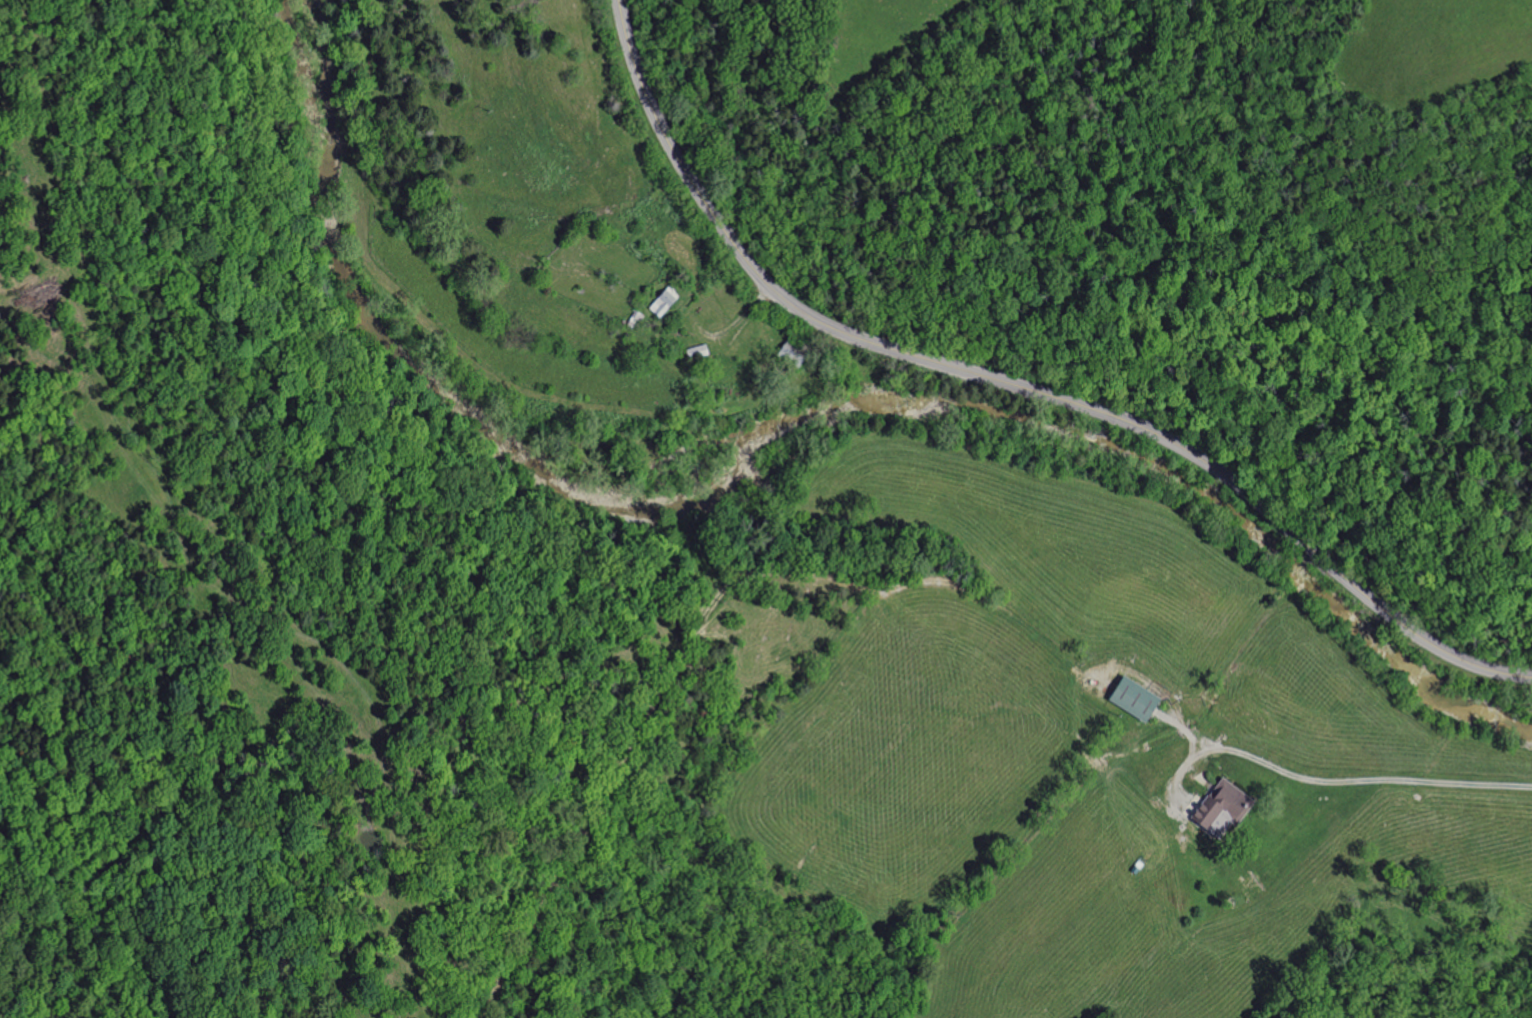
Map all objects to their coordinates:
building: (663, 302)
road: (1019, 386)
building: (1128, 698)
road: (1340, 781)
building: (1215, 808)

